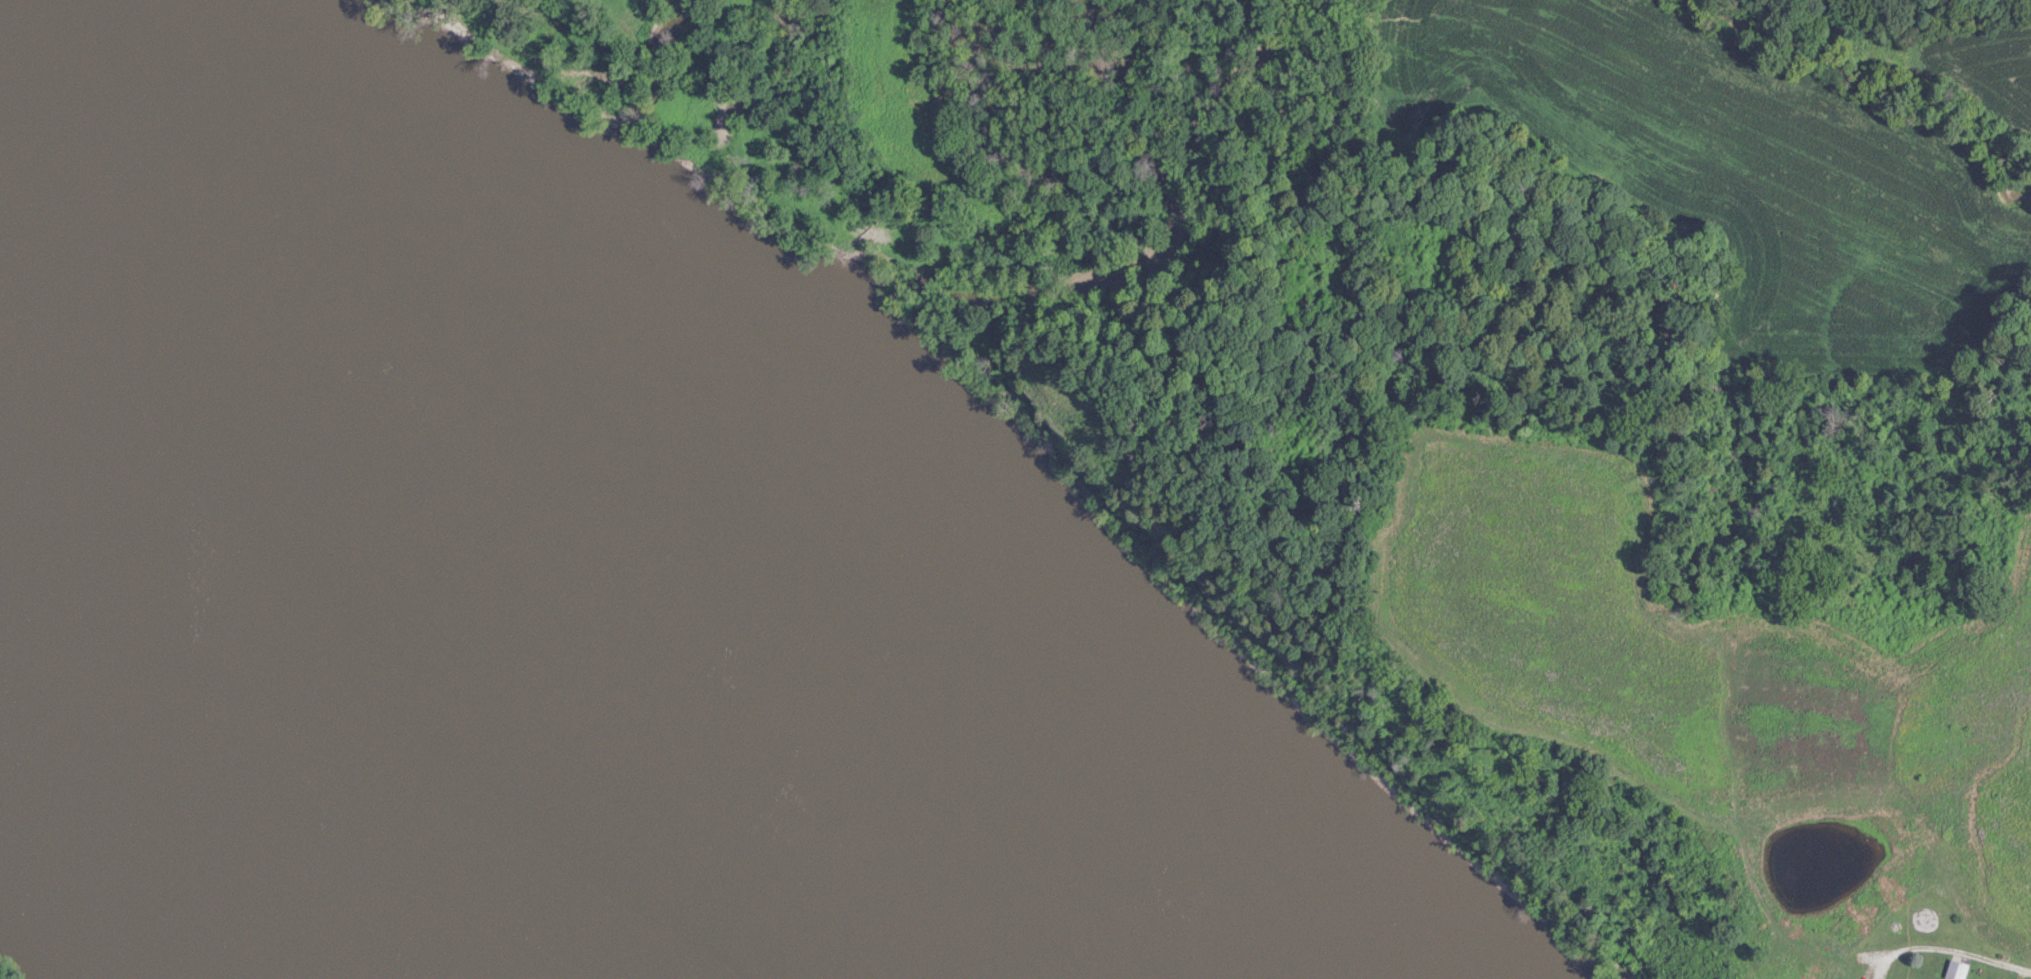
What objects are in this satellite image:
crop: (1706, 668)
dam: (1783, 877)
road: (1949, 947)
building: (1956, 969)

